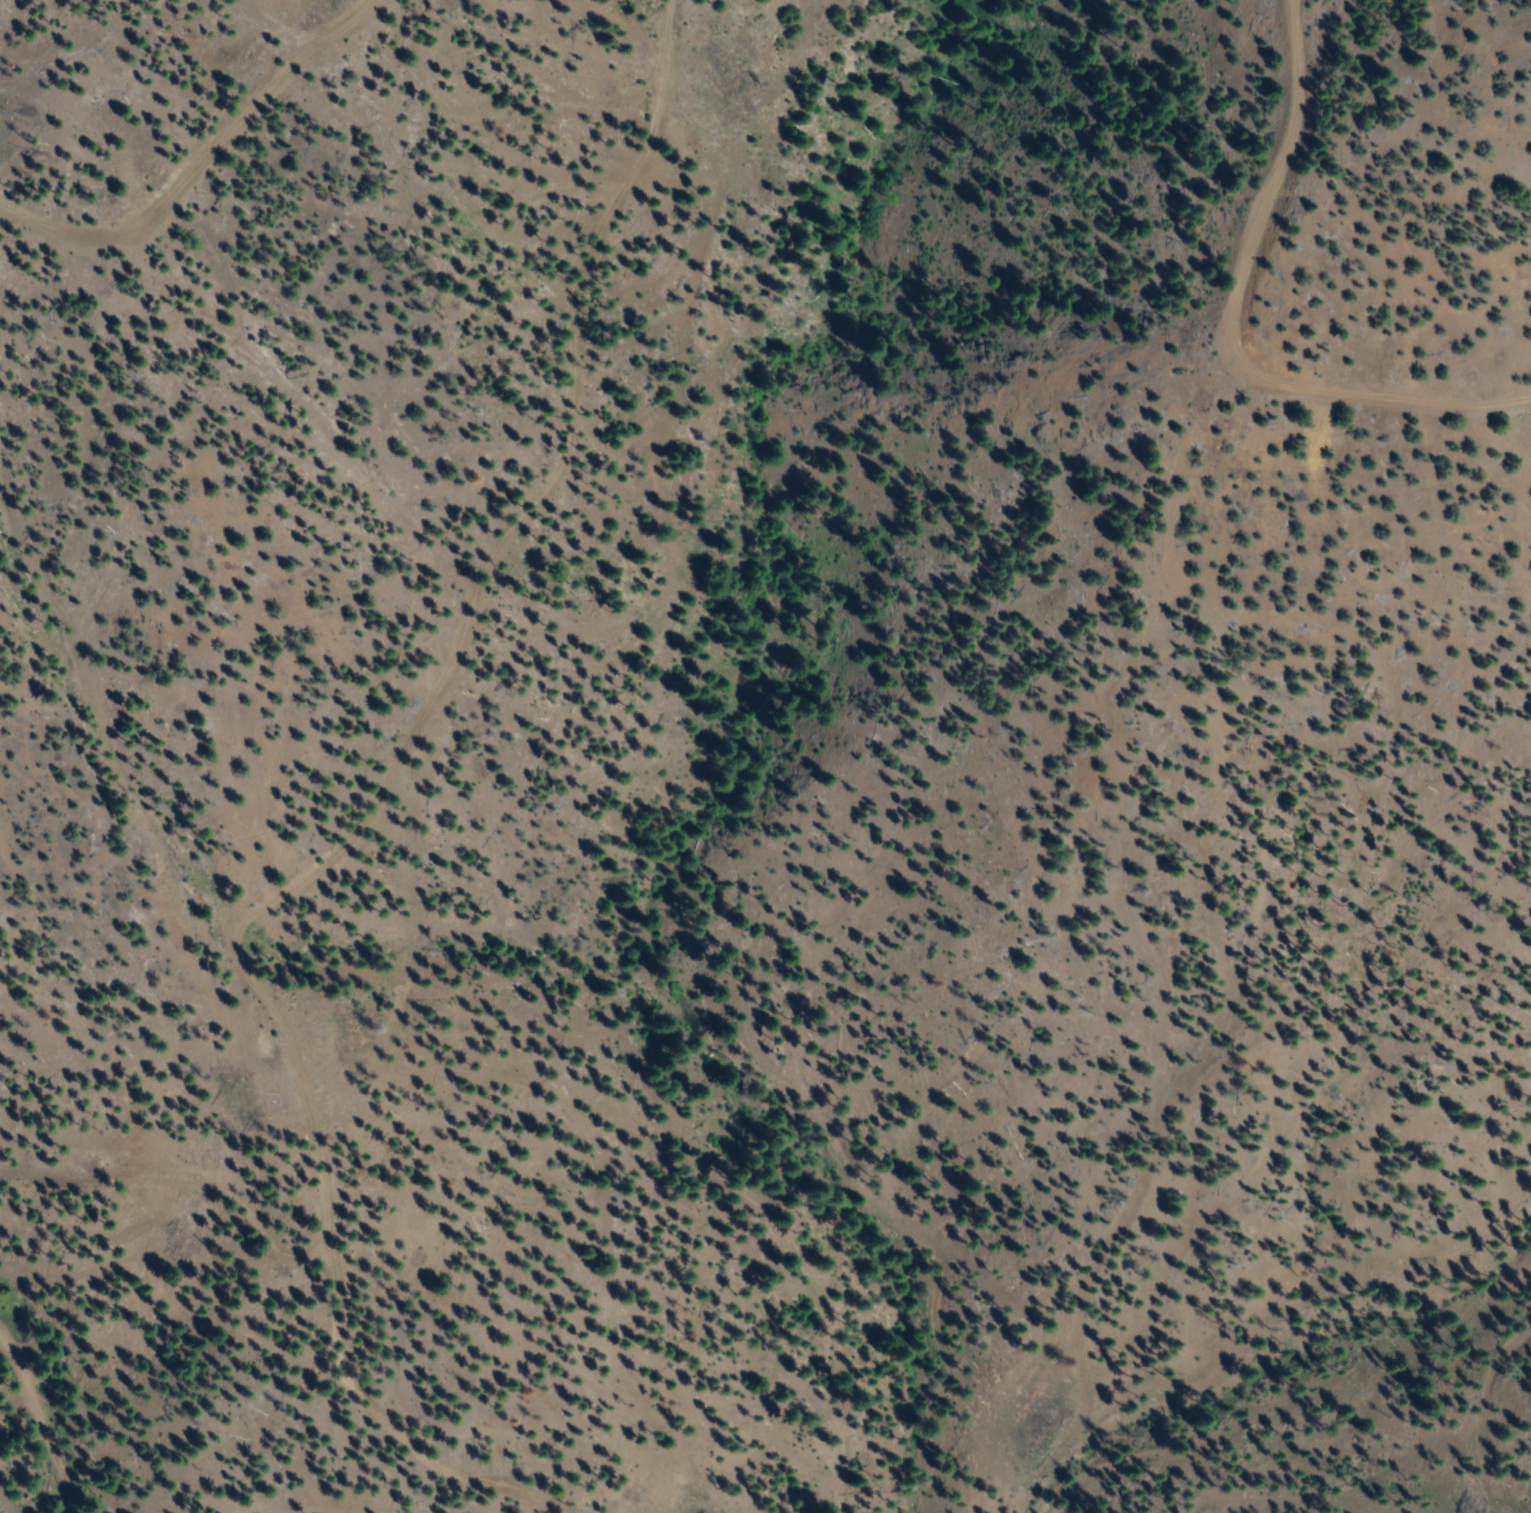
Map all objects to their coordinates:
road: (202, 191)
road: (1245, 318)
road: (474, 1485)

